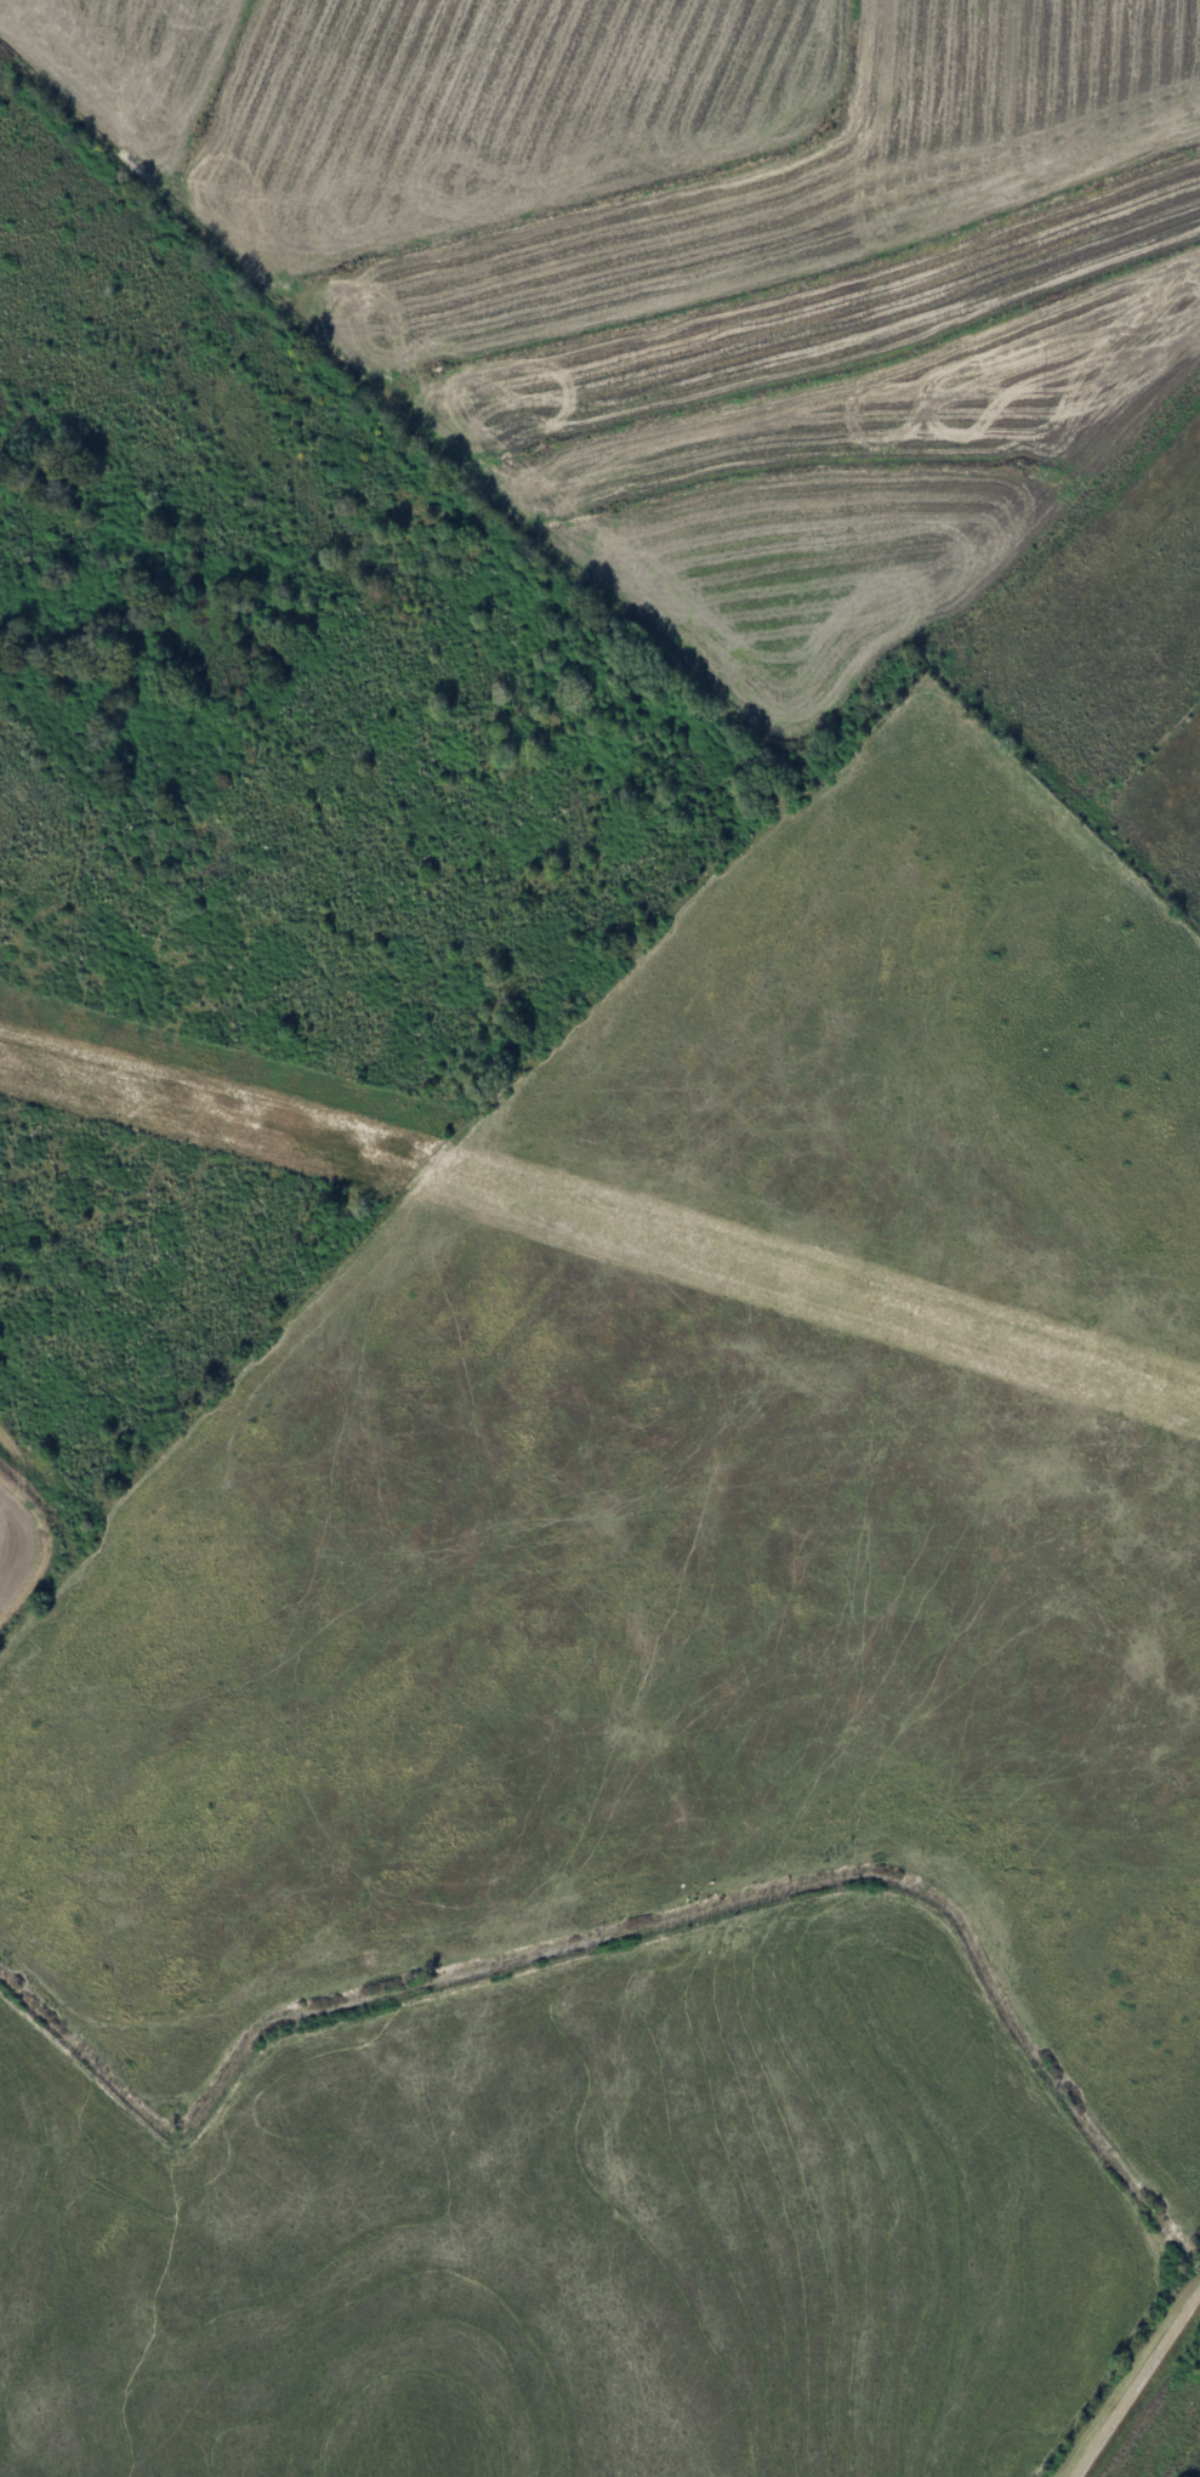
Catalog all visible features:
road: (102, 578)
road: (1137, 2384)

